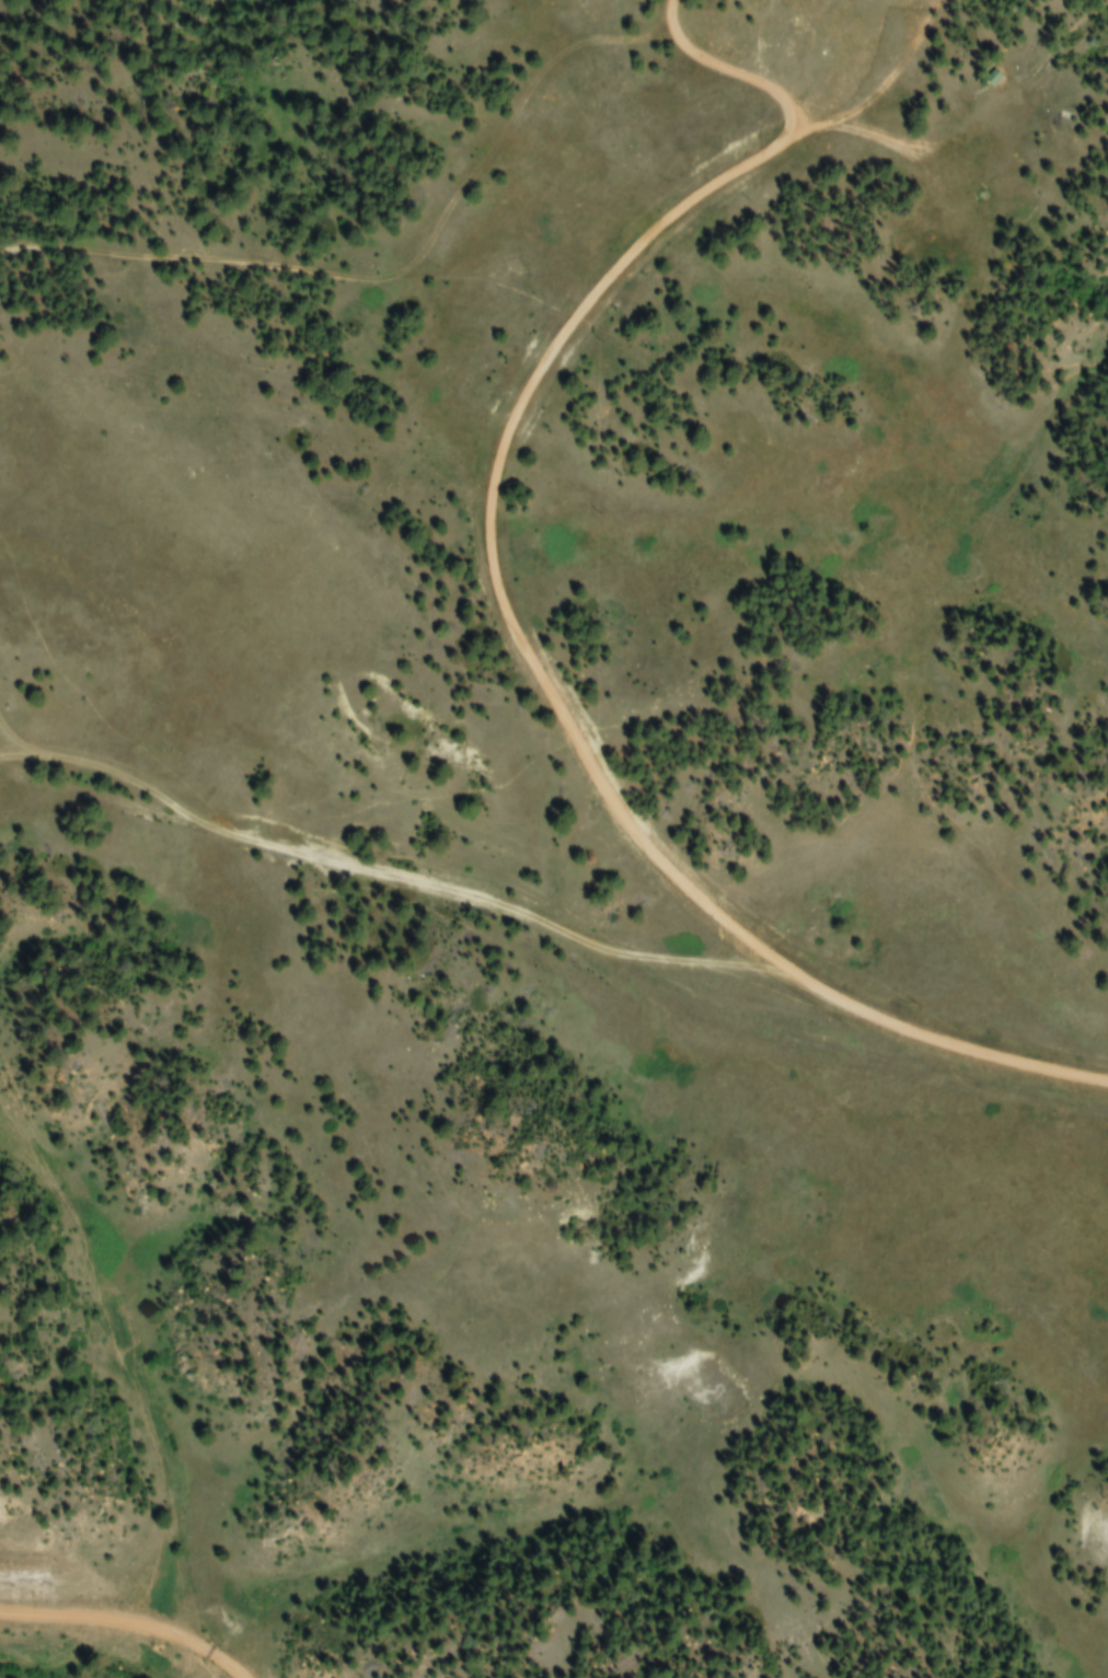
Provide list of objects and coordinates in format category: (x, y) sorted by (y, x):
road: (397, 276)
road: (508, 610)
road: (524, 917)
road: (129, 1617)

